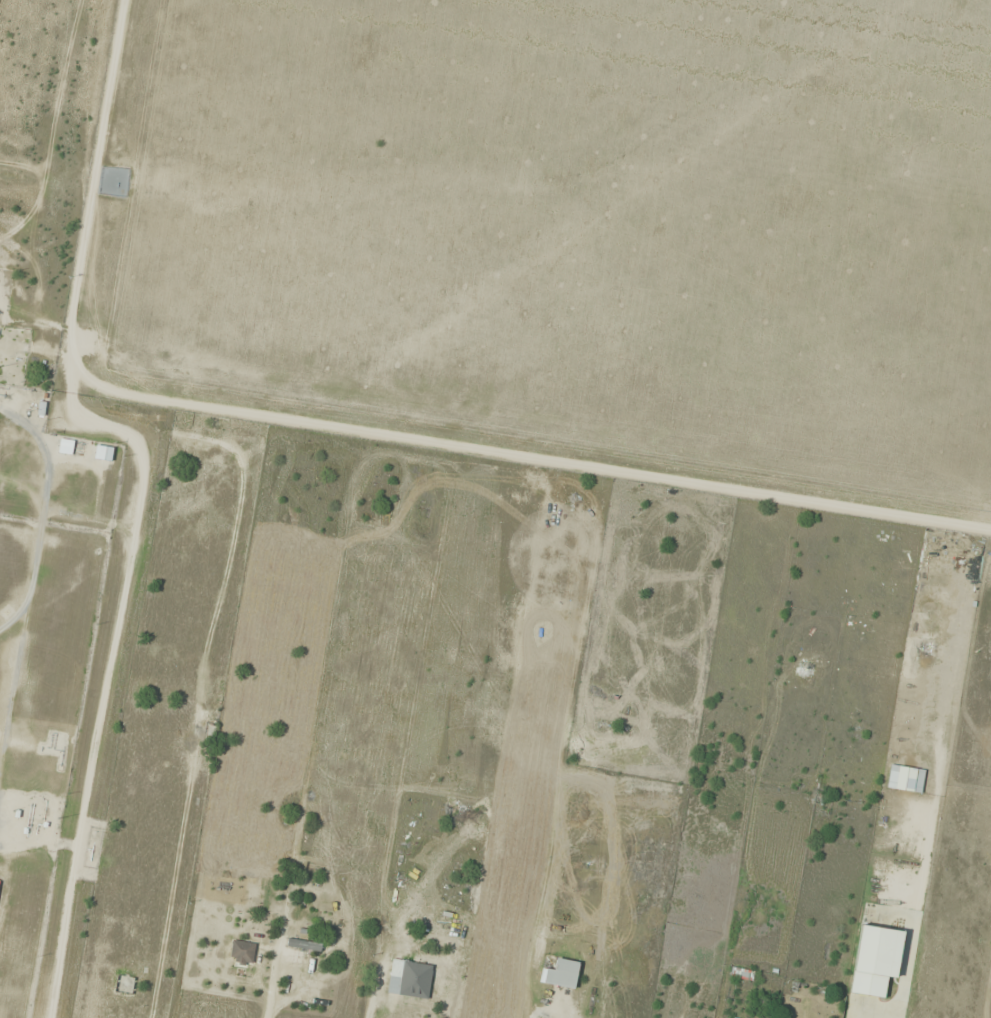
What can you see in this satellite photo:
building: (66, 446)
road: (138, 489)
building: (203, 733)
building: (301, 939)
building: (242, 951)
building: (855, 968)
building: (561, 974)
building: (741, 974)
building: (409, 980)
building: (799, 987)

